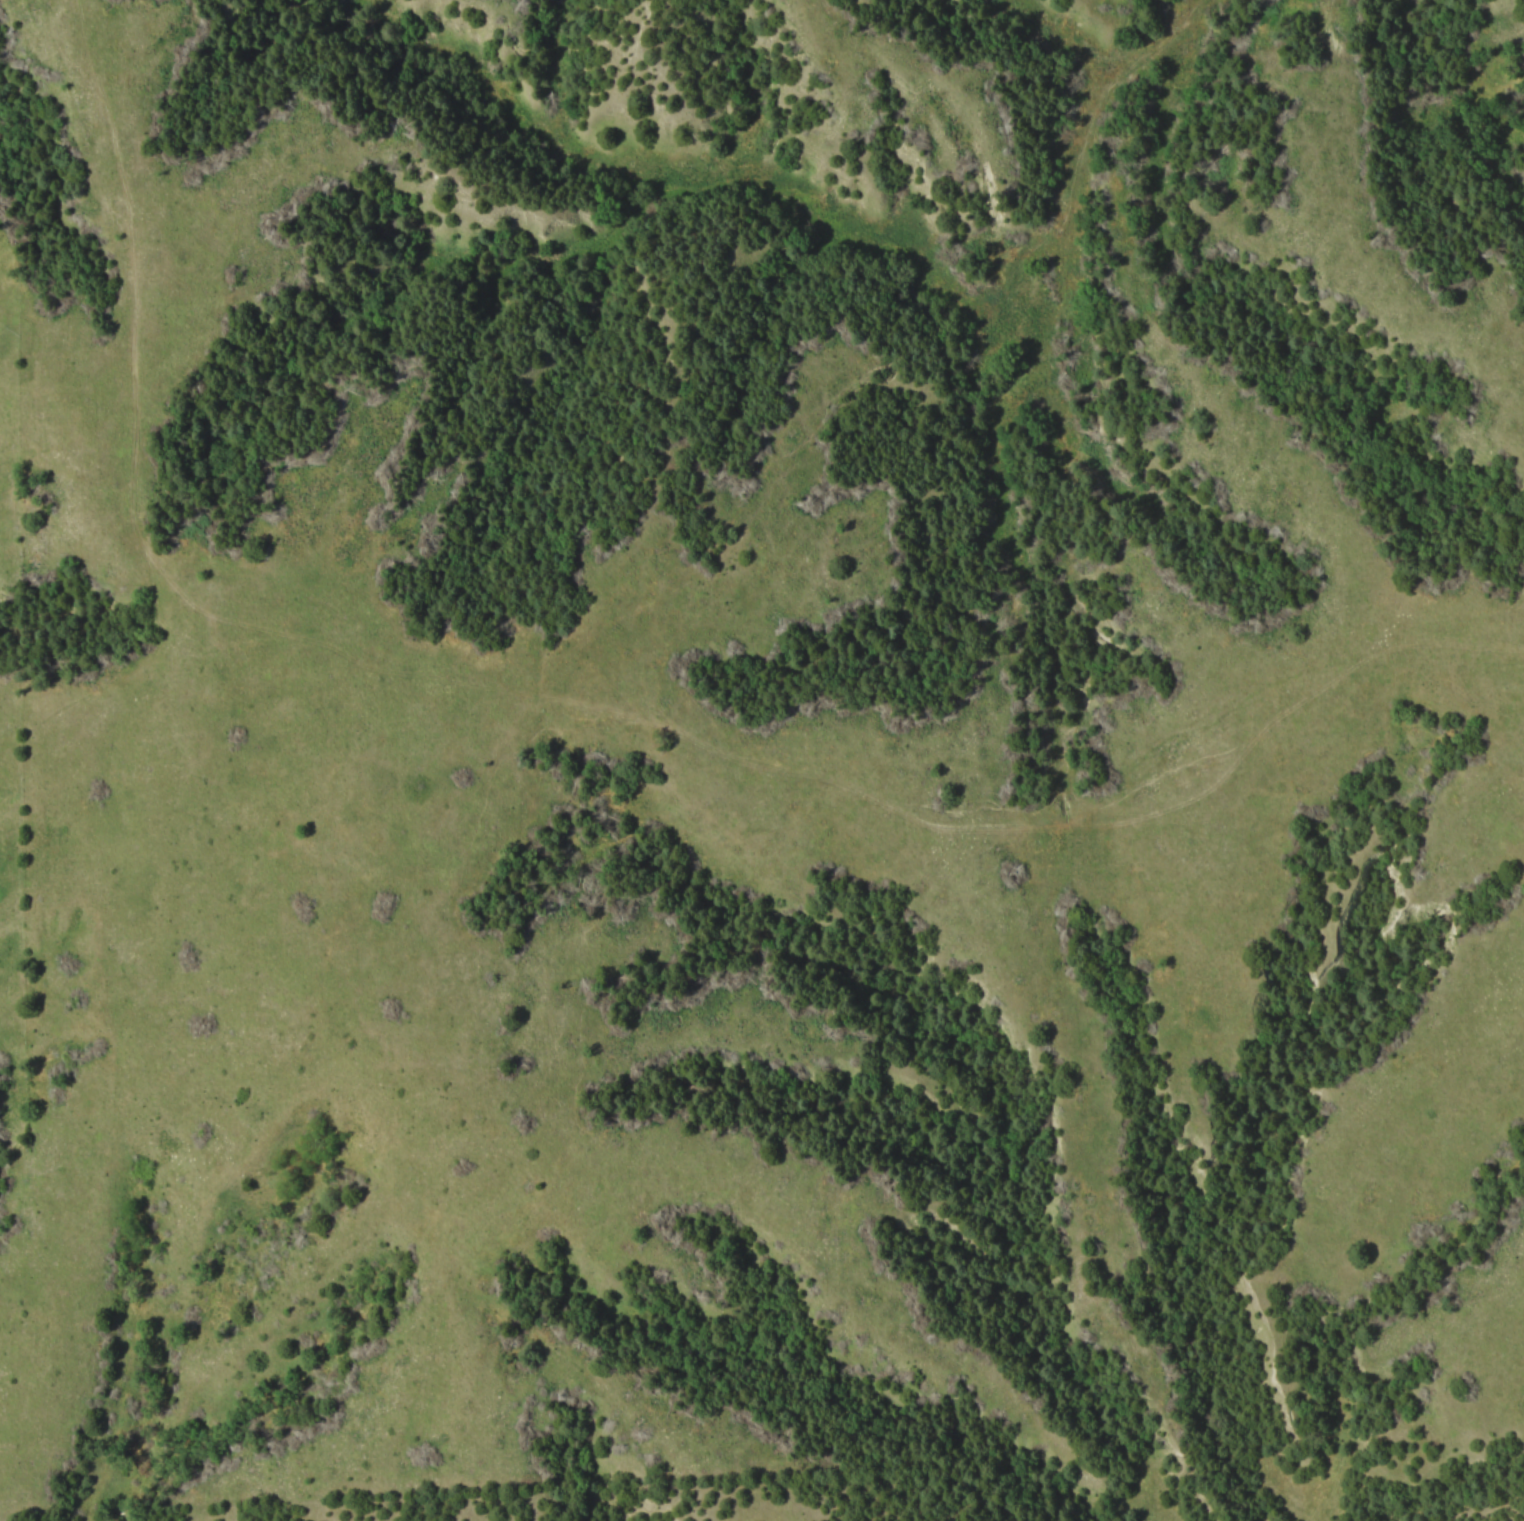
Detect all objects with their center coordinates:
crop: (949, 1498)
road: (609, 1499)
road: (117, 1514)

